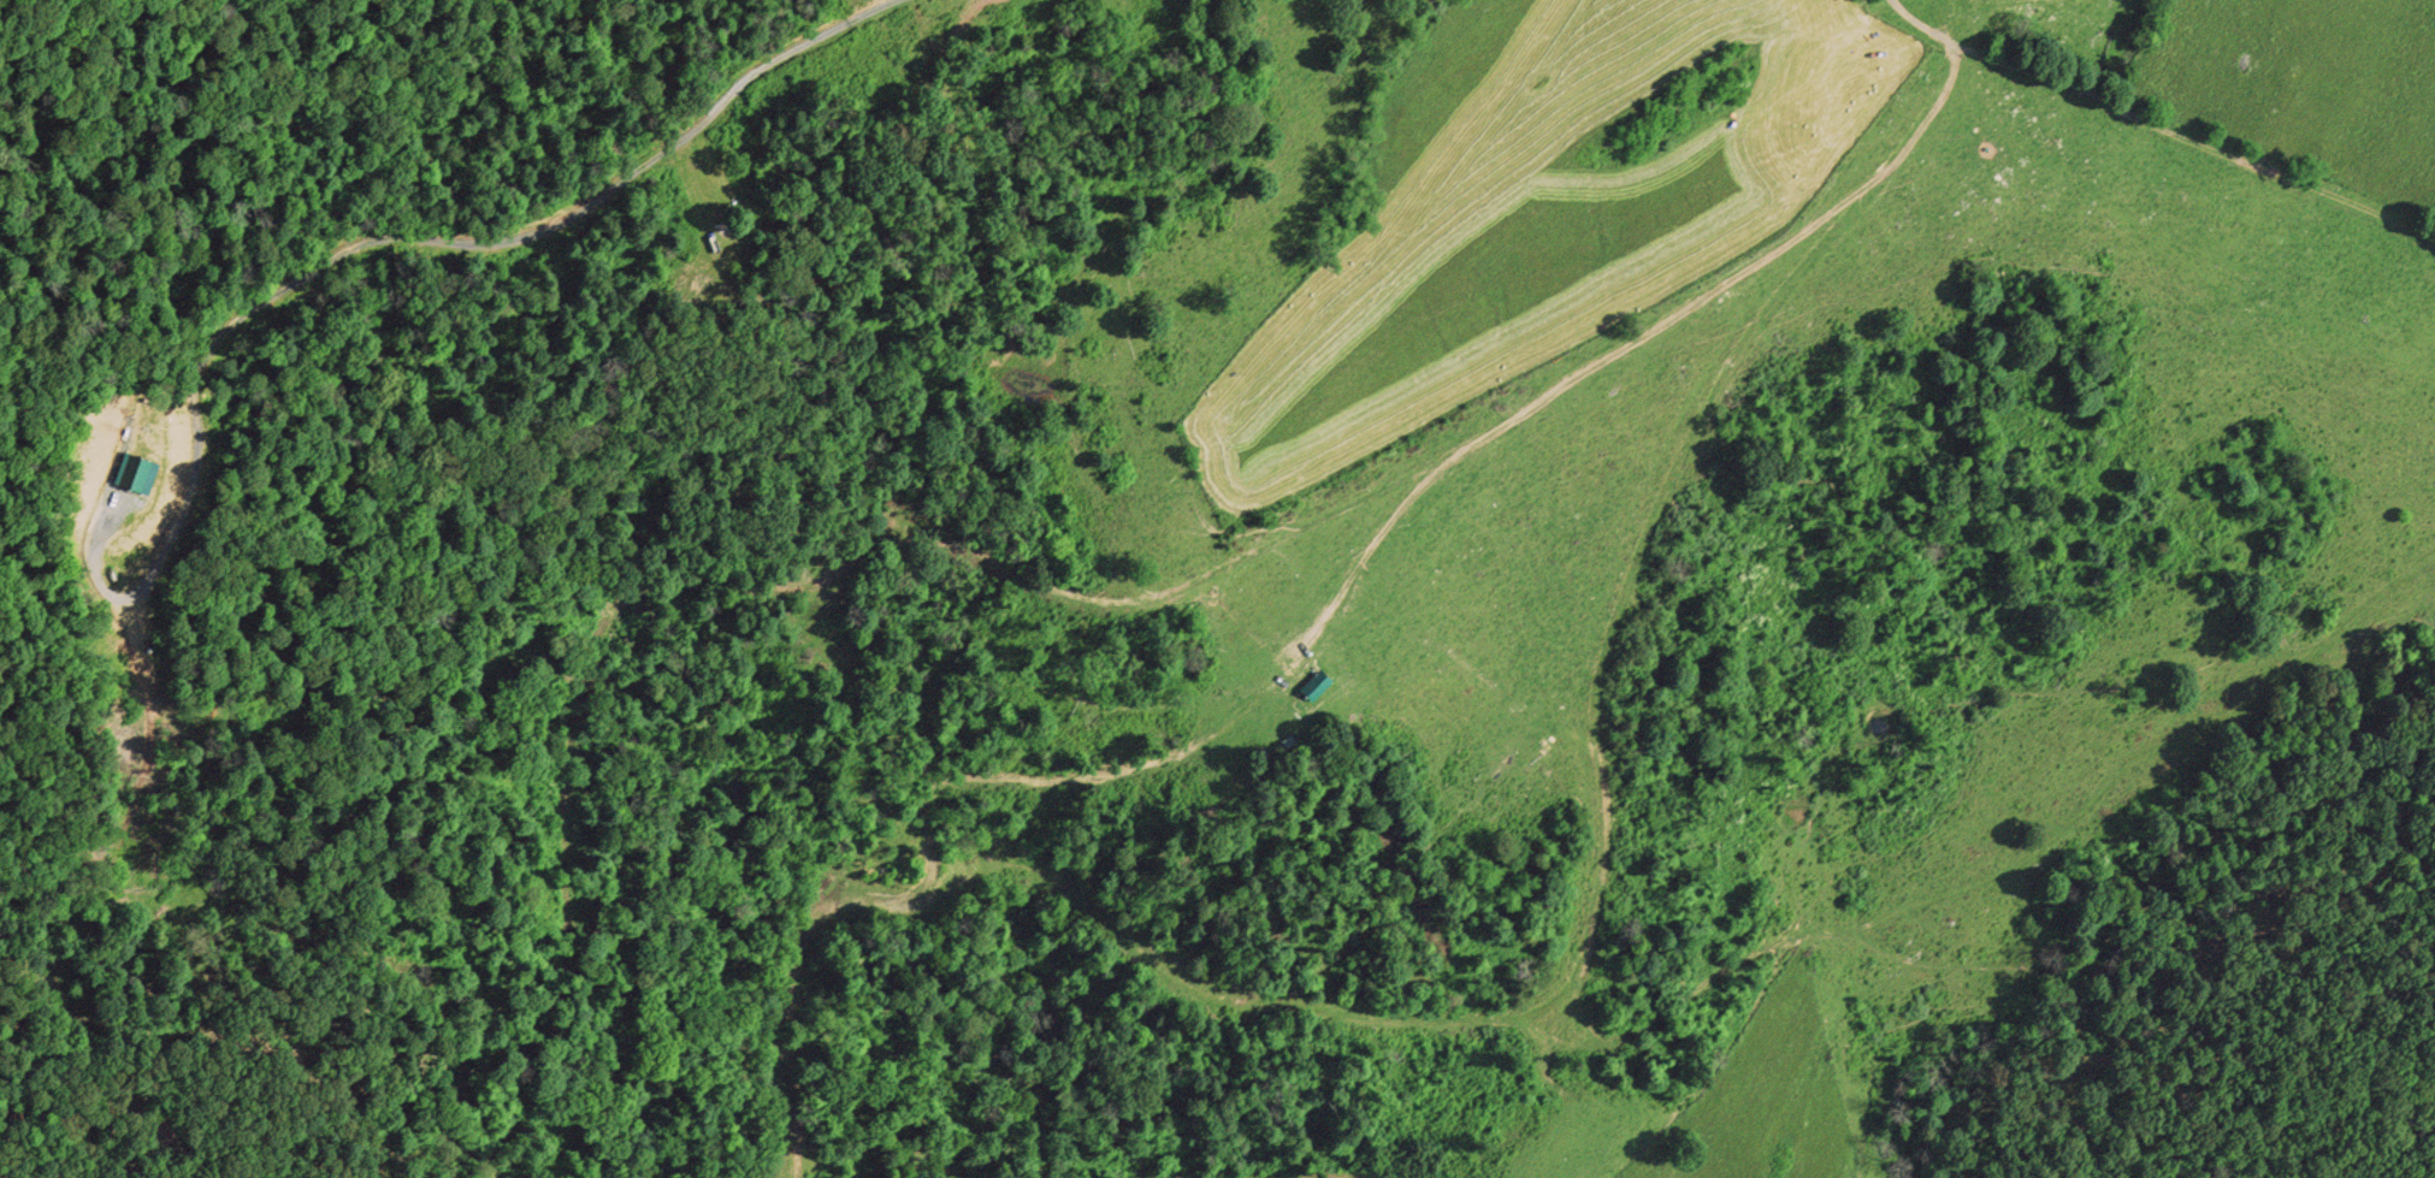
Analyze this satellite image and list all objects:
road: (2161, 125)
road: (1649, 525)

